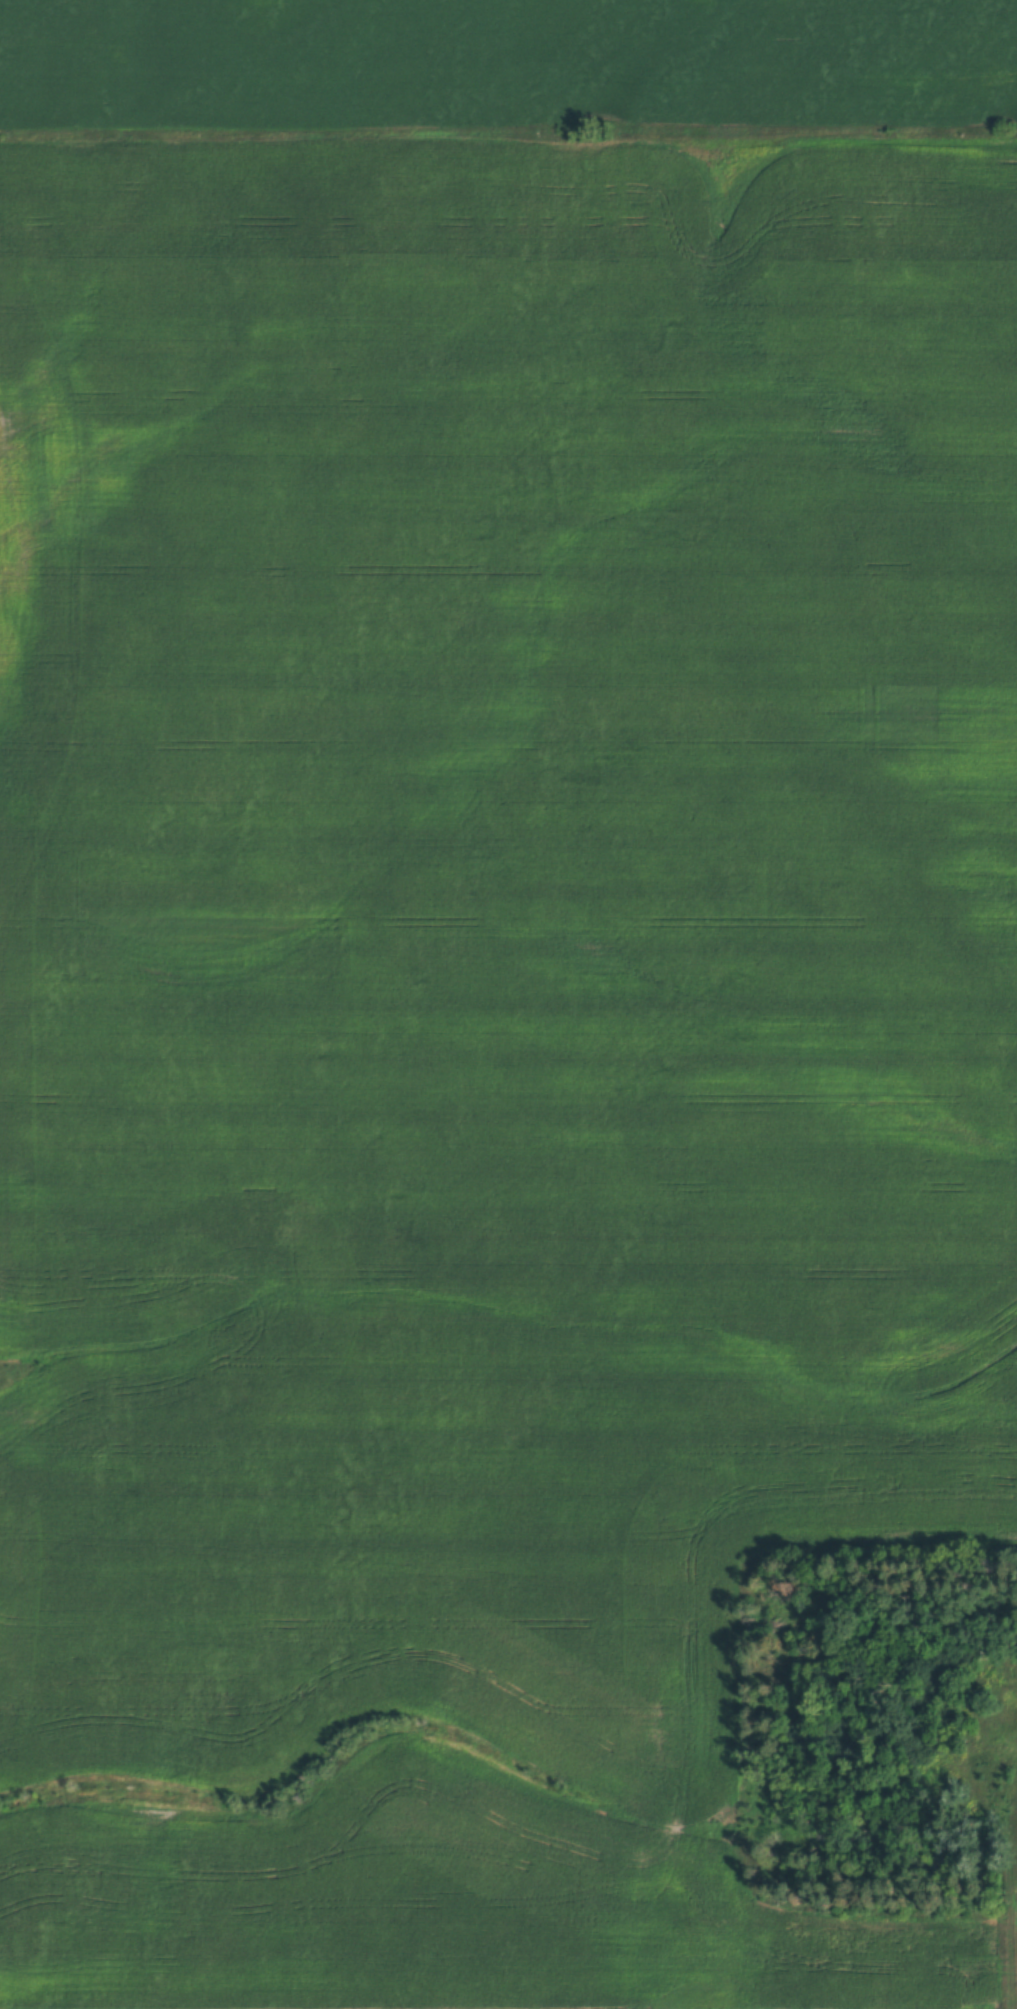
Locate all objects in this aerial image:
road: (1007, 1887)

